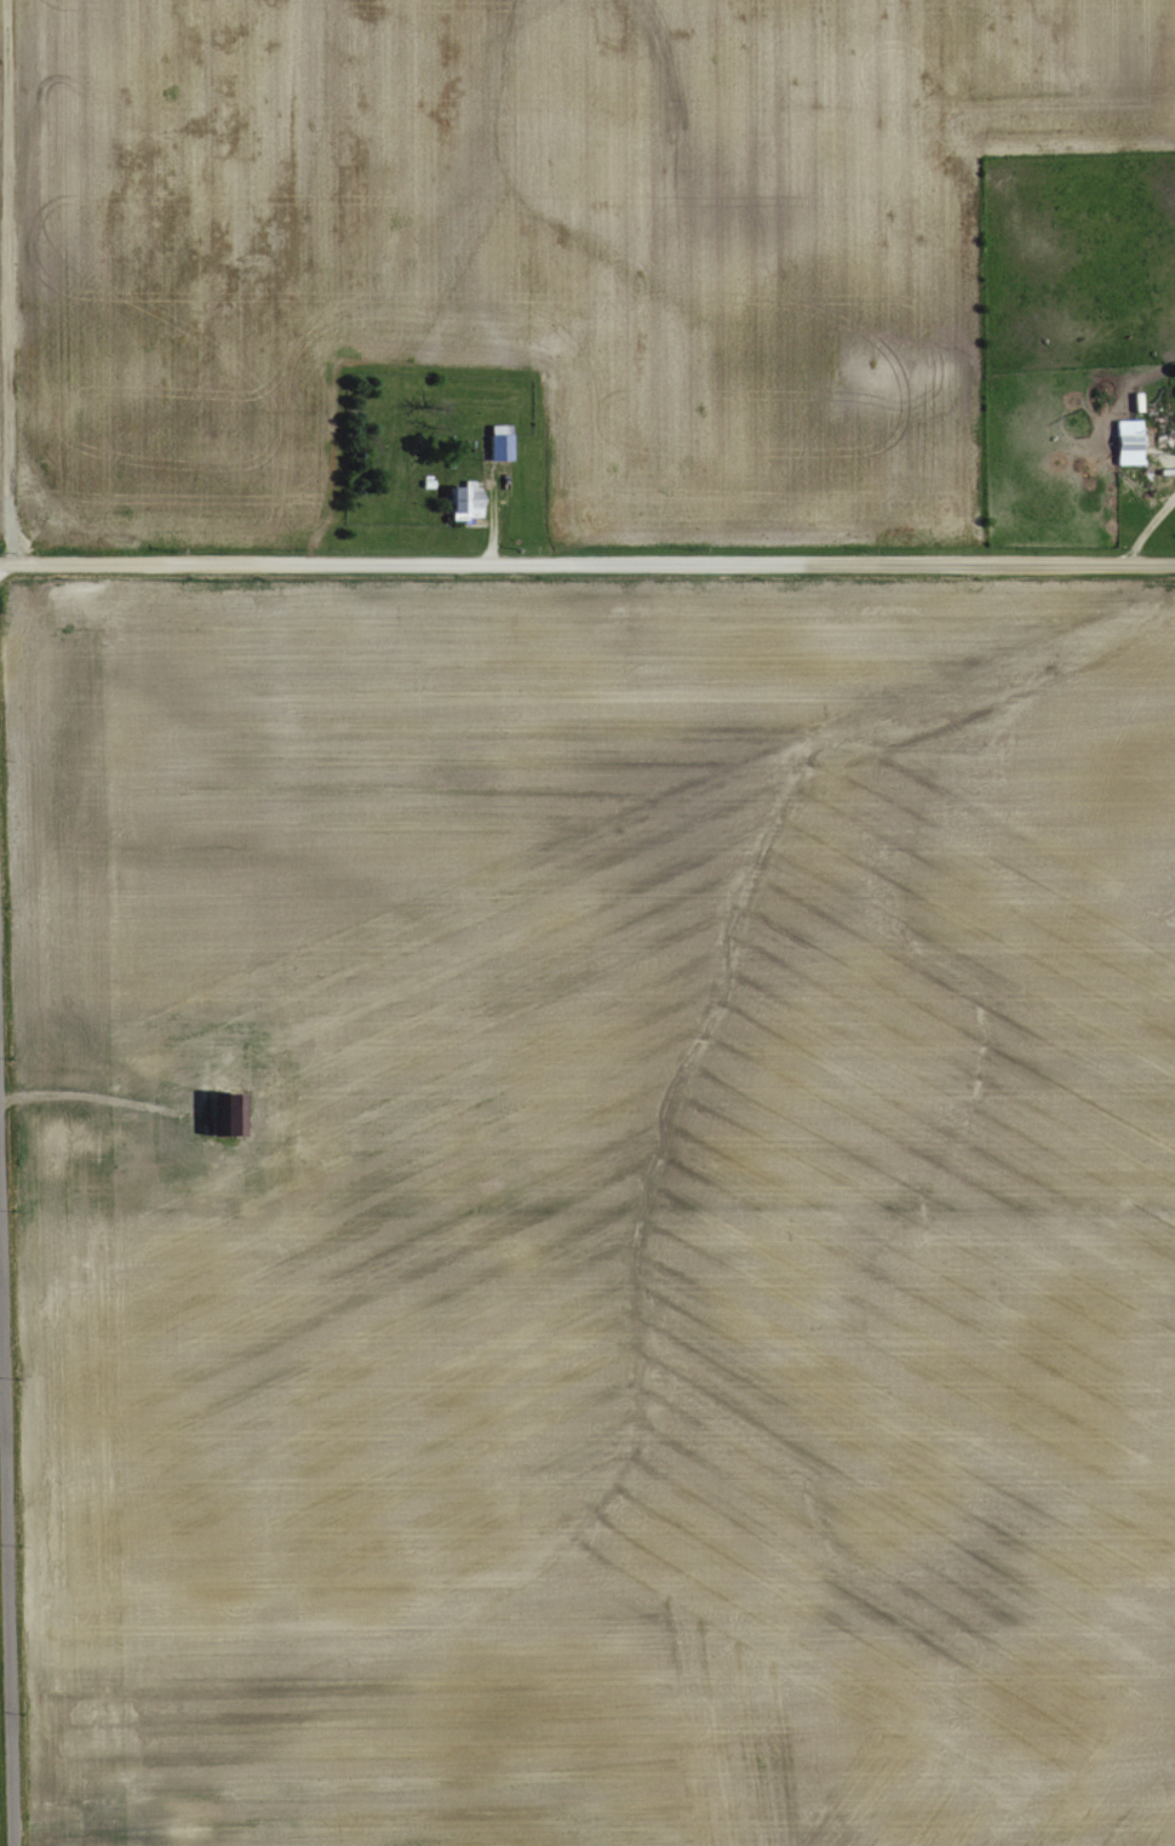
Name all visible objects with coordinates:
building: (1123, 440)
building: (494, 445)
road: (587, 559)
road: (103, 1091)
building: (222, 1114)
road: (6, 1536)

